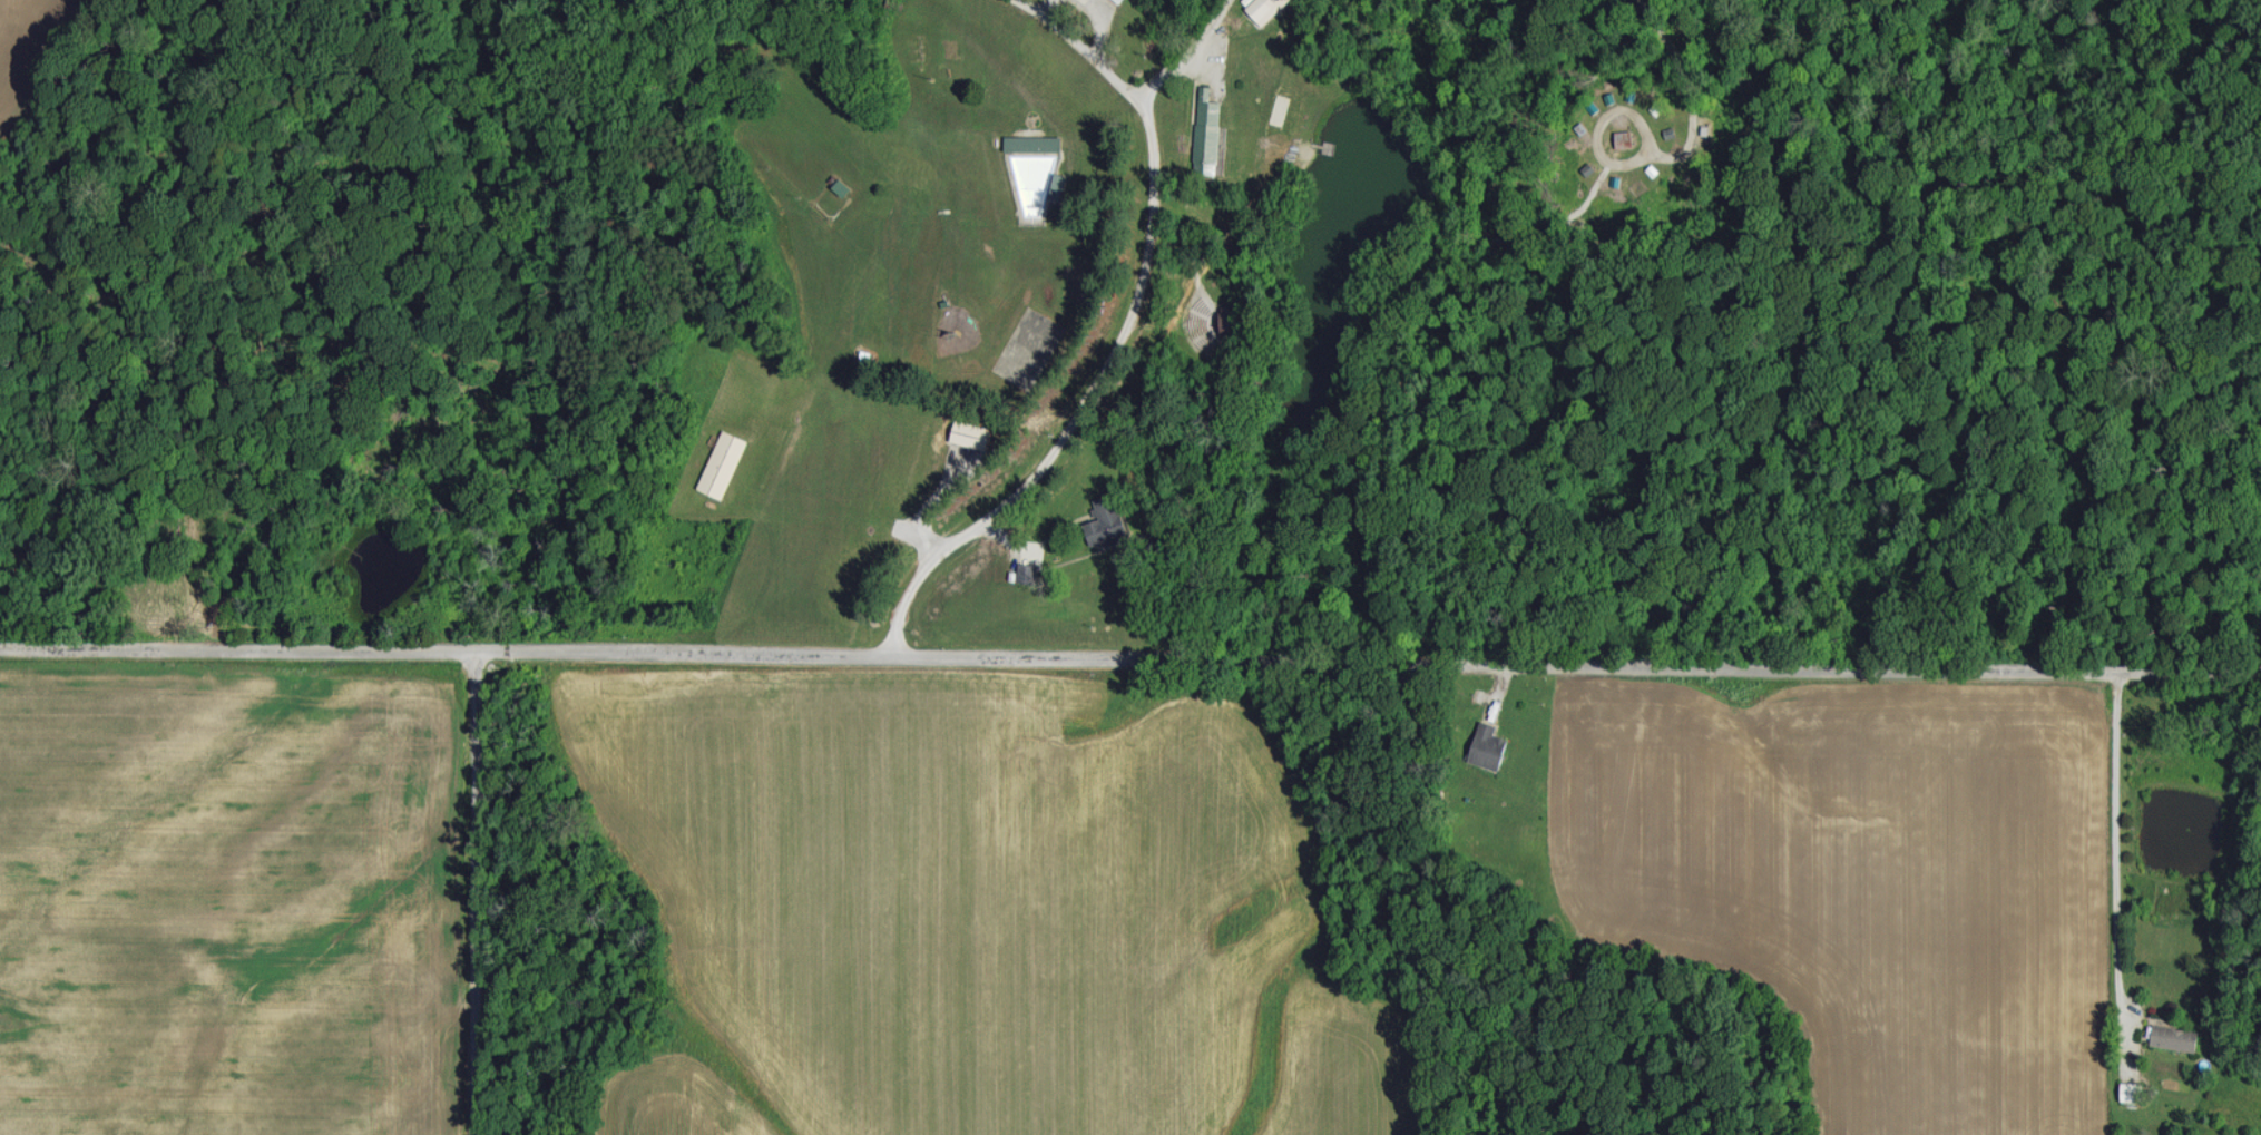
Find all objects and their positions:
building: (1120, 0)
road: (1031, 1)
road: (1037, 1)
building: (1264, 9)
building: (1207, 133)
building: (1623, 138)
building: (1032, 143)
building: (1038, 179)
road: (1112, 332)
building: (970, 433)
building: (723, 462)
building: (1104, 519)
road: (1129, 650)
building: (1488, 745)
road: (2120, 828)
road: (476, 889)
building: (2174, 1037)
building: (2130, 1090)

